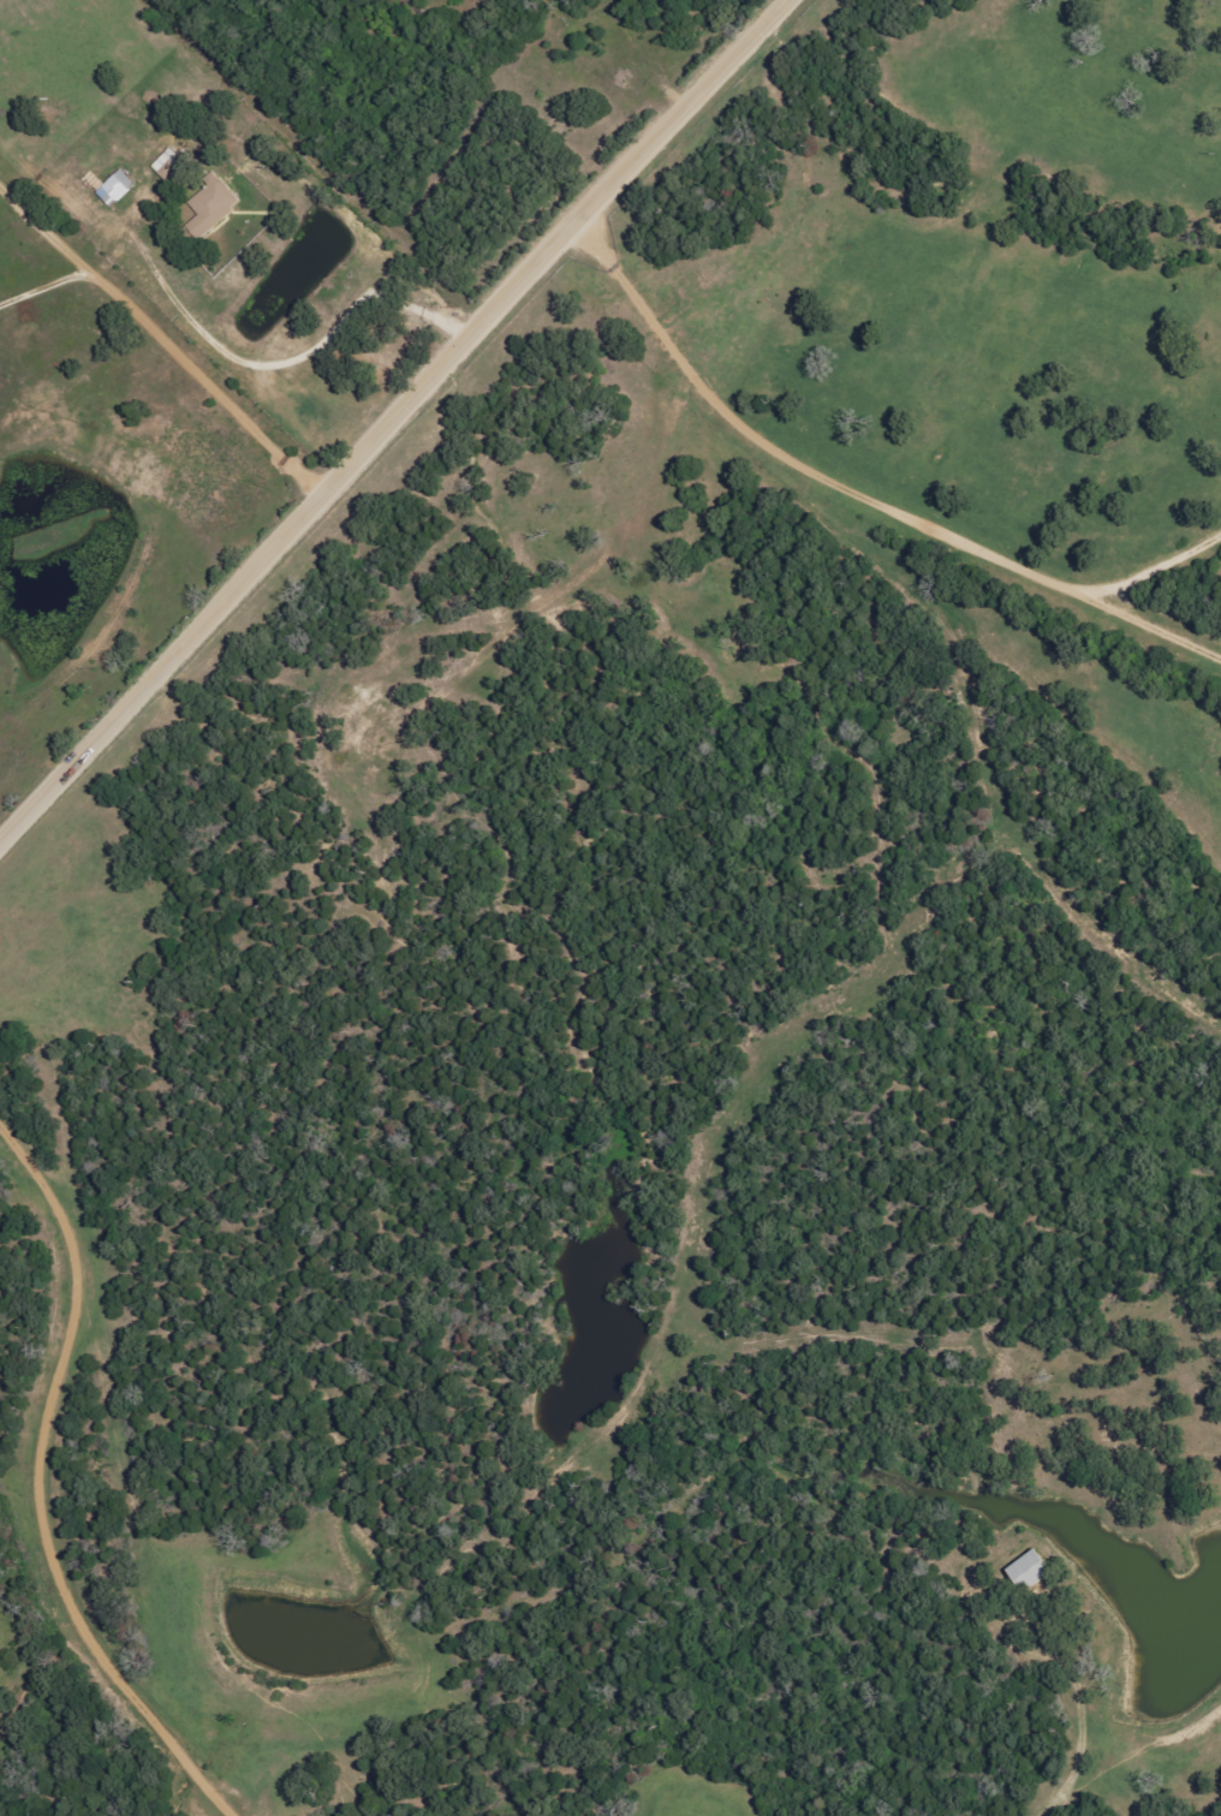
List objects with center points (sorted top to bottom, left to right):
road: (311, 171)
building: (117, 187)
building: (214, 203)
road: (387, 418)
building: (1032, 1570)

